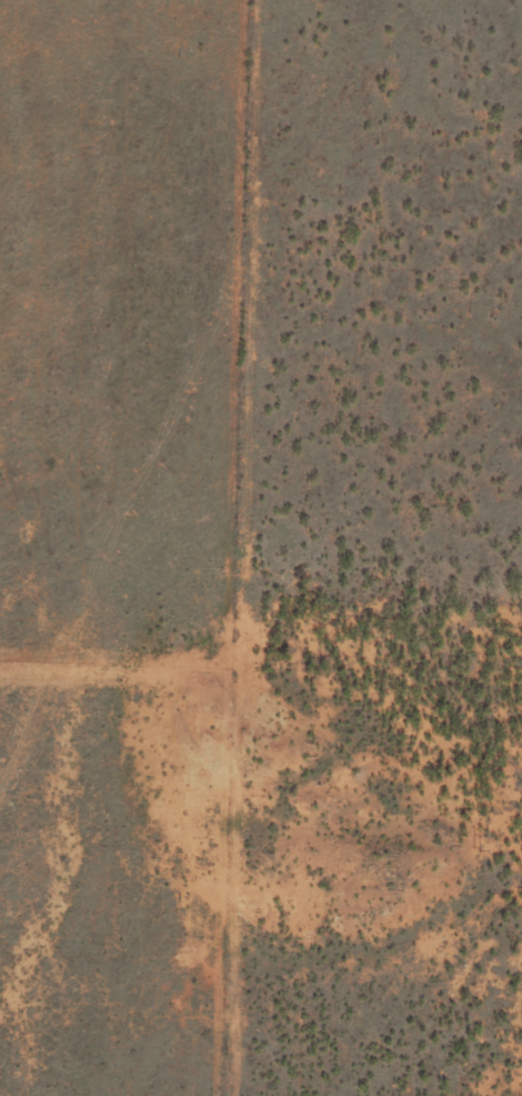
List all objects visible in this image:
power tower: (472, 848)

